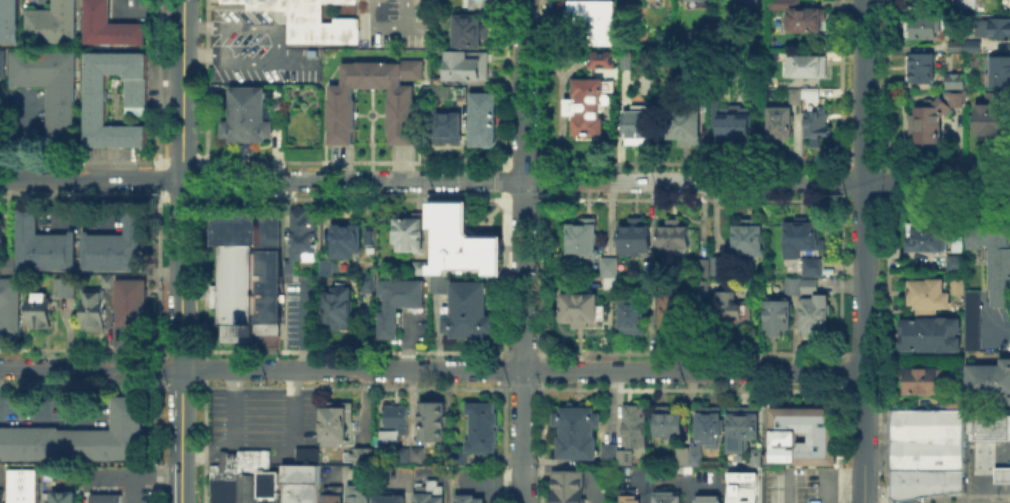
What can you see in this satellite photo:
road: (42, 0)
building: (750, 2)
parking lot: (35, 3)
building: (479, 3)
building: (959, 3)
building: (969, 3)
building: (910, 4)
parking lot: (127, 9)
road: (148, 10)
building: (800, 15)
building: (594, 19)
building: (308, 20)
building: (9, 21)
parking lot: (388, 21)
building: (52, 22)
road: (388, 23)
building: (108, 25)
building: (921, 26)
building: (993, 26)
building: (467, 29)
building: (434, 43)
building: (954, 44)
building: (972, 44)
road: (275, 46)
parking lot: (256, 48)
building: (601, 58)
building: (624, 59)
building: (2, 63)
road: (293, 64)
building: (464, 64)
building: (805, 64)
building: (919, 66)
building: (999, 69)
building: (435, 79)
building: (953, 79)
building: (51, 88)
building: (440, 91)
building: (457, 91)
building: (95, 93)
building: (702, 93)
building: (808, 93)
building: (1002, 93)
building: (793, 94)
building: (955, 96)
building: (587, 104)
parking lot: (25, 113)
building: (400, 113)
building: (728, 115)
building: (246, 116)
building: (991, 117)
building: (482, 118)
building: (927, 120)
building: (776, 122)
building: (637, 123)
building: (683, 123)
building: (815, 123)
building: (445, 125)
road: (26, 134)
road: (261, 180)
road: (767, 182)
road: (57, 203)
road: (103, 203)
parking lot: (79, 217)
building: (2, 229)
building: (407, 232)
building: (672, 235)
building: (798, 235)
building: (926, 235)
building: (299, 236)
building: (635, 236)
building: (581, 237)
building: (345, 238)
building: (746, 238)
building: (460, 240)
building: (117, 244)
building: (41, 245)
building: (992, 250)
road: (182, 251)
road: (523, 251)
road: (864, 251)
building: (954, 262)
building: (6, 263)
building: (608, 264)
building: (718, 264)
building: (648, 265)
building: (810, 265)
building: (323, 266)
building: (418, 266)
building: (701, 266)
building: (246, 272)
building: (106, 279)
building: (609, 280)
building: (366, 283)
building: (438, 283)
building: (649, 283)
building: (808, 283)
building: (791, 284)
building: (957, 285)
building: (64, 286)
building: (700, 288)
building: (927, 292)
building: (130, 300)
building: (396, 301)
building: (10, 304)
building: (729, 306)
building: (91, 307)
building: (337, 307)
building: (38, 309)
parking lot: (300, 309)
building: (581, 309)
building: (467, 310)
building: (673, 312)
building: (632, 313)
building: (813, 313)
building: (777, 314)
building: (971, 319)
road: (304, 322)
parking lot: (985, 322)
road: (996, 326)
parking lot: (412, 327)
parking lot: (127, 333)
building: (929, 333)
road: (409, 340)
road: (121, 345)
road: (937, 356)
road: (431, 367)
building: (920, 378)
building: (989, 380)
road: (39, 392)
road: (83, 393)
road: (262, 393)
building: (953, 400)
road: (262, 402)
parking lot: (55, 408)
road: (262, 409)
road: (262, 417)
parking lot: (263, 417)
building: (430, 418)
building: (392, 421)
building: (667, 421)
building: (335, 422)
building: (481, 424)
building: (633, 424)
building: (708, 424)
building: (988, 425)
road: (262, 426)
building: (741, 426)
building: (576, 431)
road: (262, 433)
building: (783, 435)
building: (80, 436)
road: (263, 442)
road: (207, 449)
building: (926, 451)
building: (608, 452)
road: (283, 453)
building: (357, 453)
building: (402, 453)
building: (416, 453)
building: (694, 453)
building: (305, 454)
building: (681, 454)
road: (209, 455)
building: (623, 455)
building: (755, 455)
road: (243, 457)
building: (458, 457)
parking lot: (987, 464)
road: (575, 466)
building: (683, 468)
road: (985, 469)
building: (46, 470)
road: (828, 471)
road: (108, 472)
road: (156, 472)
parking lot: (423, 472)
parking lot: (341, 473)
road: (998, 473)
building: (1001, 473)
gas station: (1001, 473)
road: (1007, 473)
parking lot: (2, 474)
road: (339, 474)
parking lot: (391, 476)
building: (243, 477)
road: (443, 477)
road: (97, 478)
parking lot: (635, 479)
road: (404, 480)
parking lot: (480, 481)
parking lot: (665, 481)
parking lot: (706, 481)
road: (680, 482)
building: (299, 483)
road: (493, 483)
parking lot: (597, 483)
road: (343, 484)
building: (746, 484)
parking lot: (799, 484)
building: (22, 485)
building: (566, 485)
road: (648, 485)
road: (694, 485)
road: (86, 486)
road: (131, 487)
road: (783, 487)
road: (492, 488)
road: (997, 488)
building: (428, 492)
building: (330, 493)
building: (356, 493)
parking lot: (136, 494)
building: (1, 495)
building: (57, 496)
building: (386, 496)
building: (666, 496)
building: (104, 497)
building: (467, 497)
road: (97, 498)
road: (106, 498)
building: (629, 498)
building: (708, 498)

